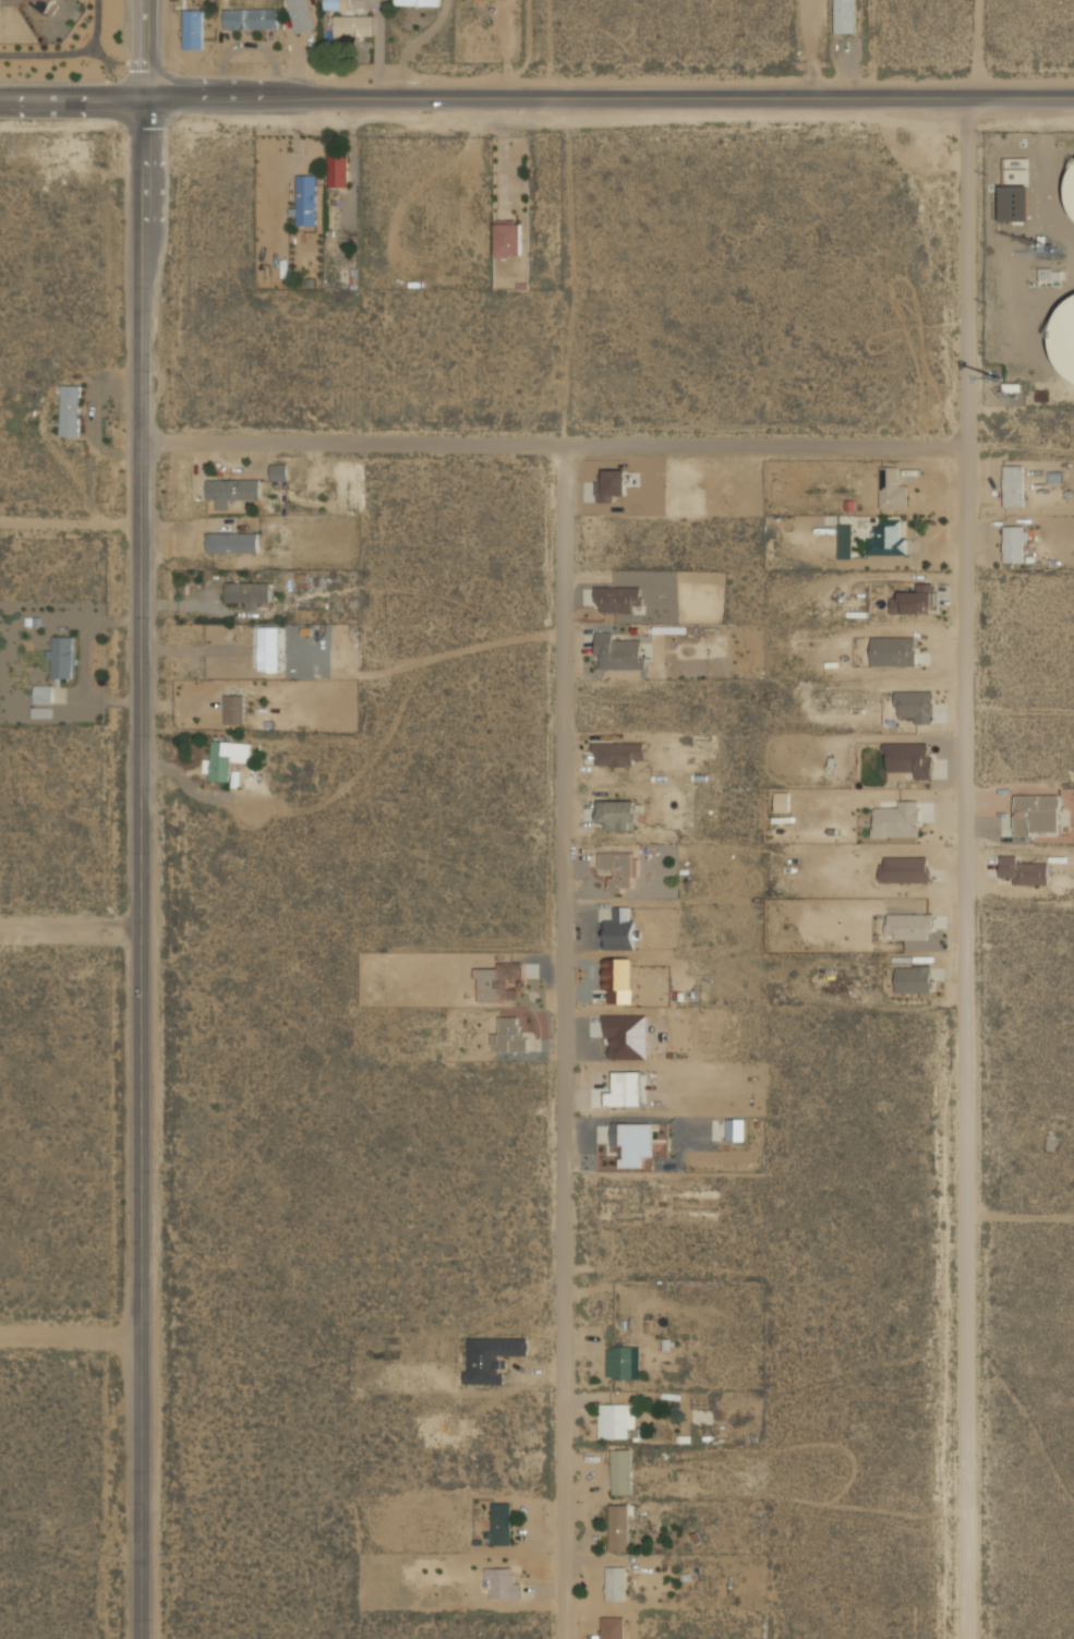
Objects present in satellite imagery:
building: (419, 2)
building: (44, 3)
building: (330, 3)
building: (301, 15)
building: (844, 16)
building: (250, 17)
building: (353, 24)
building: (193, 28)
road: (988, 48)
road: (70, 53)
road: (608, 96)
road: (72, 97)
building: (337, 169)
building: (1072, 196)
building: (305, 200)
building: (1014, 203)
building: (508, 239)
building: (1050, 274)
building: (1065, 336)
building: (70, 410)
road: (551, 448)
building: (278, 471)
building: (614, 483)
building: (1013, 484)
building: (892, 485)
building: (231, 489)
road: (70, 523)
building: (886, 537)
building: (231, 541)
building: (1013, 542)
building: (620, 577)
building: (302, 580)
building: (246, 592)
building: (618, 599)
building: (913, 600)
building: (268, 648)
building: (618, 651)
building: (893, 651)
building: (61, 655)
building: (43, 699)
building: (915, 704)
building: (233, 708)
building: (617, 752)
building: (225, 757)
building: (910, 757)
building: (782, 802)
building: (617, 814)
building: (1036, 815)
road: (140, 819)
building: (902, 819)
road: (963, 867)
building: (619, 869)
building: (904, 869)
building: (1025, 870)
building: (909, 926)
road: (70, 929)
building: (620, 929)
building: (914, 978)
building: (619, 980)
building: (512, 1035)
road: (566, 1044)
building: (624, 1089)
building: (735, 1130)
building: (631, 1142)
road: (70, 1334)
building: (491, 1358)
building: (619, 1362)
building: (615, 1420)
building: (620, 1470)
building: (502, 1523)
building: (619, 1527)
building: (503, 1583)
building: (615, 1583)
building: (612, 1627)

